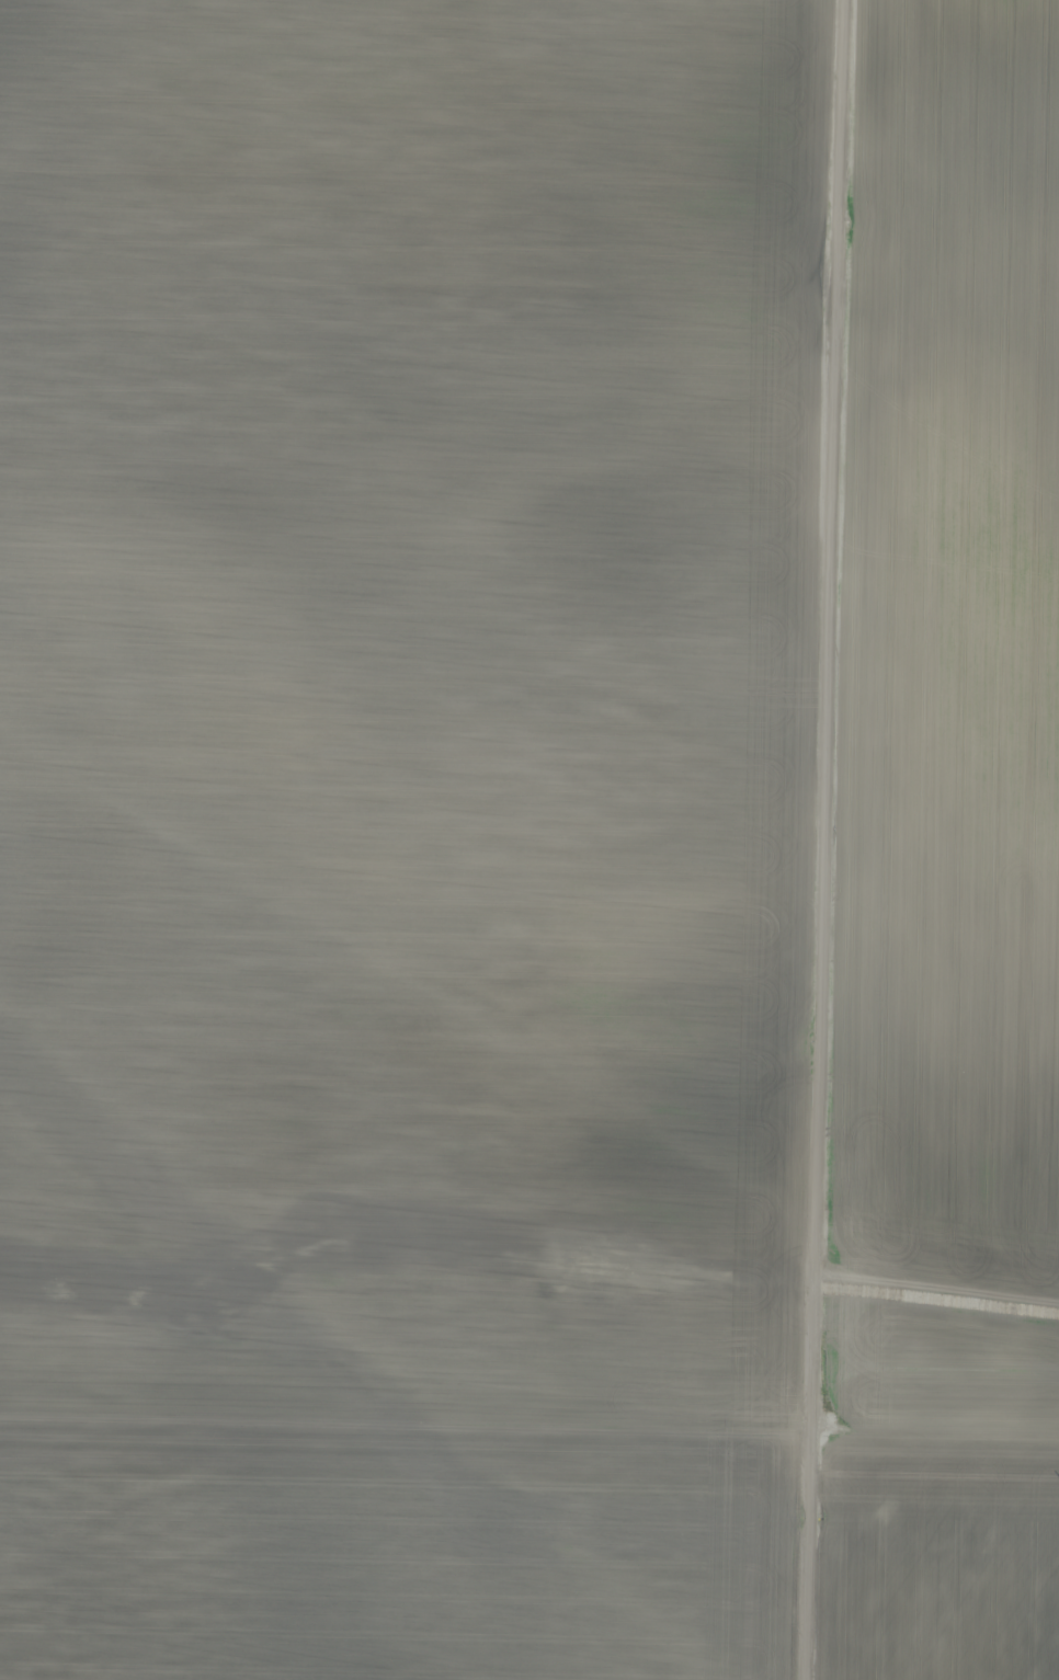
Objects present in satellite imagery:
road: (833, 839)

